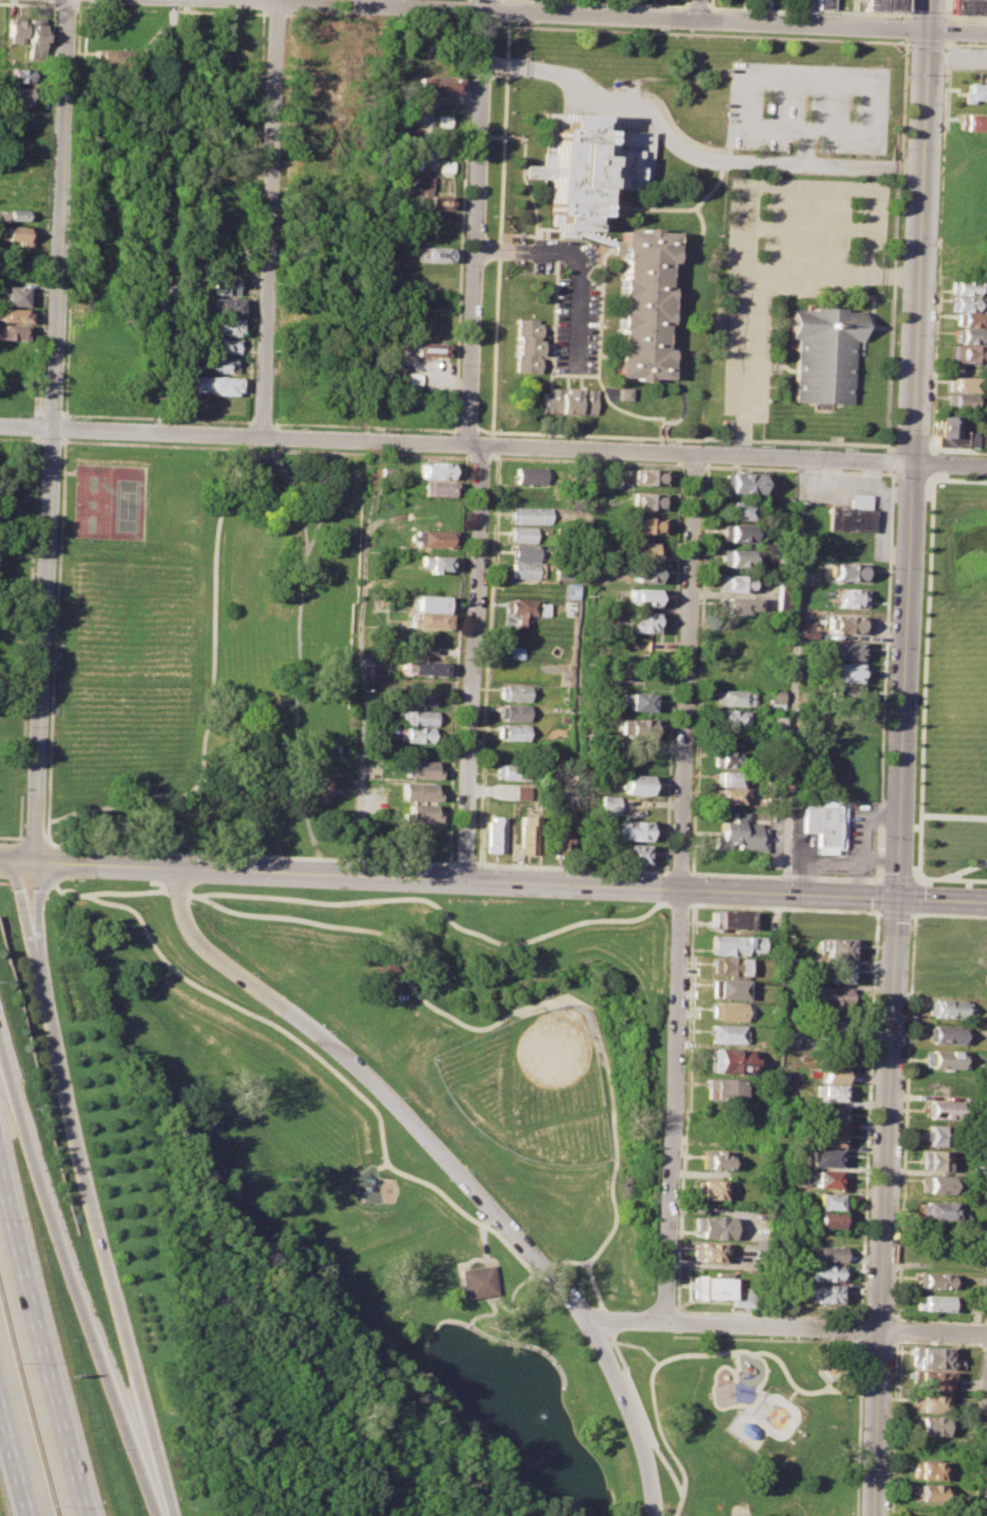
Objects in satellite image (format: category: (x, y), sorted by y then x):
road: (611, 3)
road: (28, 4)
road: (262, 4)
building: (823, 4)
building: (883, 5)
road: (65, 6)
road: (695, 6)
building: (969, 6)
road: (906, 8)
road: (468, 9)
road: (947, 9)
road: (170, 10)
road: (696, 10)
road: (808, 11)
road: (928, 14)
road: (595, 15)
road: (926, 15)
road: (965, 17)
road: (469, 21)
road: (481, 24)
road: (905, 27)
road: (946, 29)
traffic signals: (928, 30)
road: (957, 31)
building: (14, 32)
road: (699, 32)
building: (35, 40)
road: (925, 41)
road: (965, 42)
building: (113, 56)
building: (20, 74)
road: (825, 80)
building: (439, 84)
building: (974, 91)
building: (20, 94)
parking lot: (807, 108)
building: (442, 121)
building: (969, 121)
road: (689, 151)
building: (412, 161)
building: (317, 164)
building: (440, 165)
building: (590, 168)
road: (745, 190)
building: (434, 200)
building: (616, 207)
building: (15, 215)
road: (268, 218)
road: (474, 222)
parking lot: (808, 223)
road: (460, 226)
road: (497, 227)
road: (805, 227)
building: (16, 236)
road: (937, 246)
road: (526, 250)
building: (434, 253)
road: (803, 271)
building: (212, 286)
building: (964, 286)
building: (14, 296)
building: (963, 303)
building: (646, 305)
building: (220, 307)
road: (578, 313)
building: (13, 316)
building: (970, 319)
building: (220, 326)
building: (11, 332)
building: (967, 335)
building: (220, 345)
building: (528, 346)
building: (428, 348)
building: (824, 351)
building: (970, 353)
building: (213, 365)
building: (17, 366)
building: (963, 383)
building: (214, 385)
building: (624, 393)
building: (961, 399)
building: (569, 401)
road: (465, 426)
street lamp: (892, 428)
road: (50, 431)
building: (951, 434)
road: (231, 436)
road: (883, 443)
road: (470, 444)
road: (889, 447)
road: (911, 447)
road: (374, 451)
road: (956, 451)
road: (732, 453)
road: (931, 462)
building: (435, 470)
building: (527, 474)
road: (935, 475)
building: (646, 476)
street lamp: (893, 476)
building: (741, 482)
building: (434, 488)
road: (328, 492)
building: (646, 500)
park: (92, 504)
park: (128, 506)
building: (735, 509)
building: (525, 514)
building: (852, 514)
building: (645, 524)
building: (734, 532)
building: (519, 534)
building: (430, 537)
building: (642, 550)
building: (522, 552)
building: (736, 557)
building: (433, 562)
street lamp: (890, 567)
building: (524, 570)
building: (846, 571)
building: (645, 573)
building: (734, 582)
building: (569, 590)
building: (641, 596)
building: (852, 597)
building: (429, 602)
building: (738, 604)
building: (521, 609)
building: (429, 620)
building: (641, 621)
building: (845, 623)
park: (196, 640)
street lamp: (887, 647)
road: (294, 648)
building: (844, 649)
building: (515, 652)
park: (130, 657)
road: (472, 663)
building: (424, 667)
road: (580, 667)
building: (520, 670)
building: (848, 671)
road: (793, 676)
road: (923, 684)
road: (210, 685)
building: (517, 692)
building: (847, 694)
building: (733, 697)
building: (775, 698)
building: (418, 699)
building: (638, 700)
building: (514, 711)
building: (416, 716)
building: (731, 716)
building: (776, 721)
building: (637, 729)
building: (515, 730)
building: (418, 734)
street lamp: (884, 740)
building: (728, 758)
building: (422, 768)
building: (511, 771)
road: (901, 773)
building: (728, 777)
building: (635, 783)
building: (417, 790)
building: (521, 791)
building: (727, 796)
building: (608, 803)
building: (418, 812)
road: (953, 815)
building: (827, 825)
building: (634, 830)
building: (526, 833)
building: (740, 834)
building: (494, 835)
building: (559, 835)
road: (862, 837)
road: (34, 839)
street lamp: (881, 840)
street lamp: (110, 850)
building: (634, 852)
street lamp: (261, 856)
street lamp: (454, 858)
road: (5, 862)
street lamp: (411, 862)
road: (837, 862)
road: (24, 863)
street lamp: (483, 865)
street lamp: (557, 868)
road: (964, 869)
street lamp: (630, 871)
street lamp: (694, 874)
road: (919, 874)
street lamp: (779, 876)
road: (87, 877)
road: (894, 878)
road: (512, 882)
street lamp: (873, 882)
street lamp: (932, 882)
street lamp: (73, 883)
road: (685, 887)
road: (417, 890)
road: (876, 895)
road: (690, 896)
road: (914, 896)
street lamp: (187, 901)
road: (432, 904)
road: (24, 905)
road: (875, 912)
road: (893, 913)
road: (911, 914)
street lamp: (688, 917)
building: (730, 919)
building: (755, 942)
building: (727, 943)
building: (839, 947)
building: (728, 964)
street lamp: (252, 971)
building: (838, 971)
building: (728, 987)
building: (834, 995)
building: (947, 1008)
building: (726, 1009)
street lamp: (906, 1016)
street lamp: (684, 1019)
building: (832, 1028)
street lamp: (329, 1029)
building: (726, 1032)
building: (947, 1033)
building: (786, 1038)
building: (946, 1058)
building: (729, 1059)
building: (832, 1073)
park: (531, 1087)
building: (721, 1087)
building: (832, 1091)
street lamp: (402, 1096)
building: (944, 1108)
street lamp: (680, 1110)
building: (830, 1114)
street lamp: (902, 1114)
road: (903, 1122)
building: (937, 1133)
building: (829, 1135)
building: (825, 1156)
building: (715, 1158)
building: (937, 1159)
road: (450, 1164)
street lamp: (466, 1168)
building: (826, 1177)
building: (937, 1183)
building: (709, 1188)
road: (97, 1191)
park: (409, 1198)
building: (826, 1200)
street lamp: (898, 1208)
building: (939, 1208)
street lamp: (676, 1215)
building: (828, 1218)
street lamp: (520, 1226)
building: (711, 1226)
building: (706, 1250)
building: (824, 1252)
road: (472, 1258)
road: (568, 1261)
building: (824, 1271)
building: (478, 1280)
building: (937, 1280)
building: (710, 1286)
street lamp: (575, 1289)
building: (827, 1292)
road: (90, 1293)
building: (742, 1298)
road: (597, 1299)
building: (933, 1301)
street lamp: (672, 1303)
street lamp: (623, 1309)
road: (859, 1310)
street lamp: (894, 1310)
street lamp: (705, 1312)
road: (859, 1315)
road: (669, 1316)
road: (626, 1324)
road: (769, 1325)
road: (859, 1327)
road: (933, 1331)
road: (44, 1336)
road: (860, 1340)
road: (762, 1352)
road: (828, 1356)
building: (933, 1356)
fountain: (831, 1364)
street lamp: (619, 1366)
road: (859, 1366)
road: (838, 1372)
building: (932, 1379)
road: (893, 1382)
street lamp: (892, 1384)
building: (930, 1402)
road: (719, 1407)
road: (650, 1411)
building: (930, 1424)
road: (16, 1449)
street lamp: (649, 1451)
road: (855, 1452)
road: (659, 1465)
road: (985, 1468)
building: (926, 1469)
building: (925, 1491)

